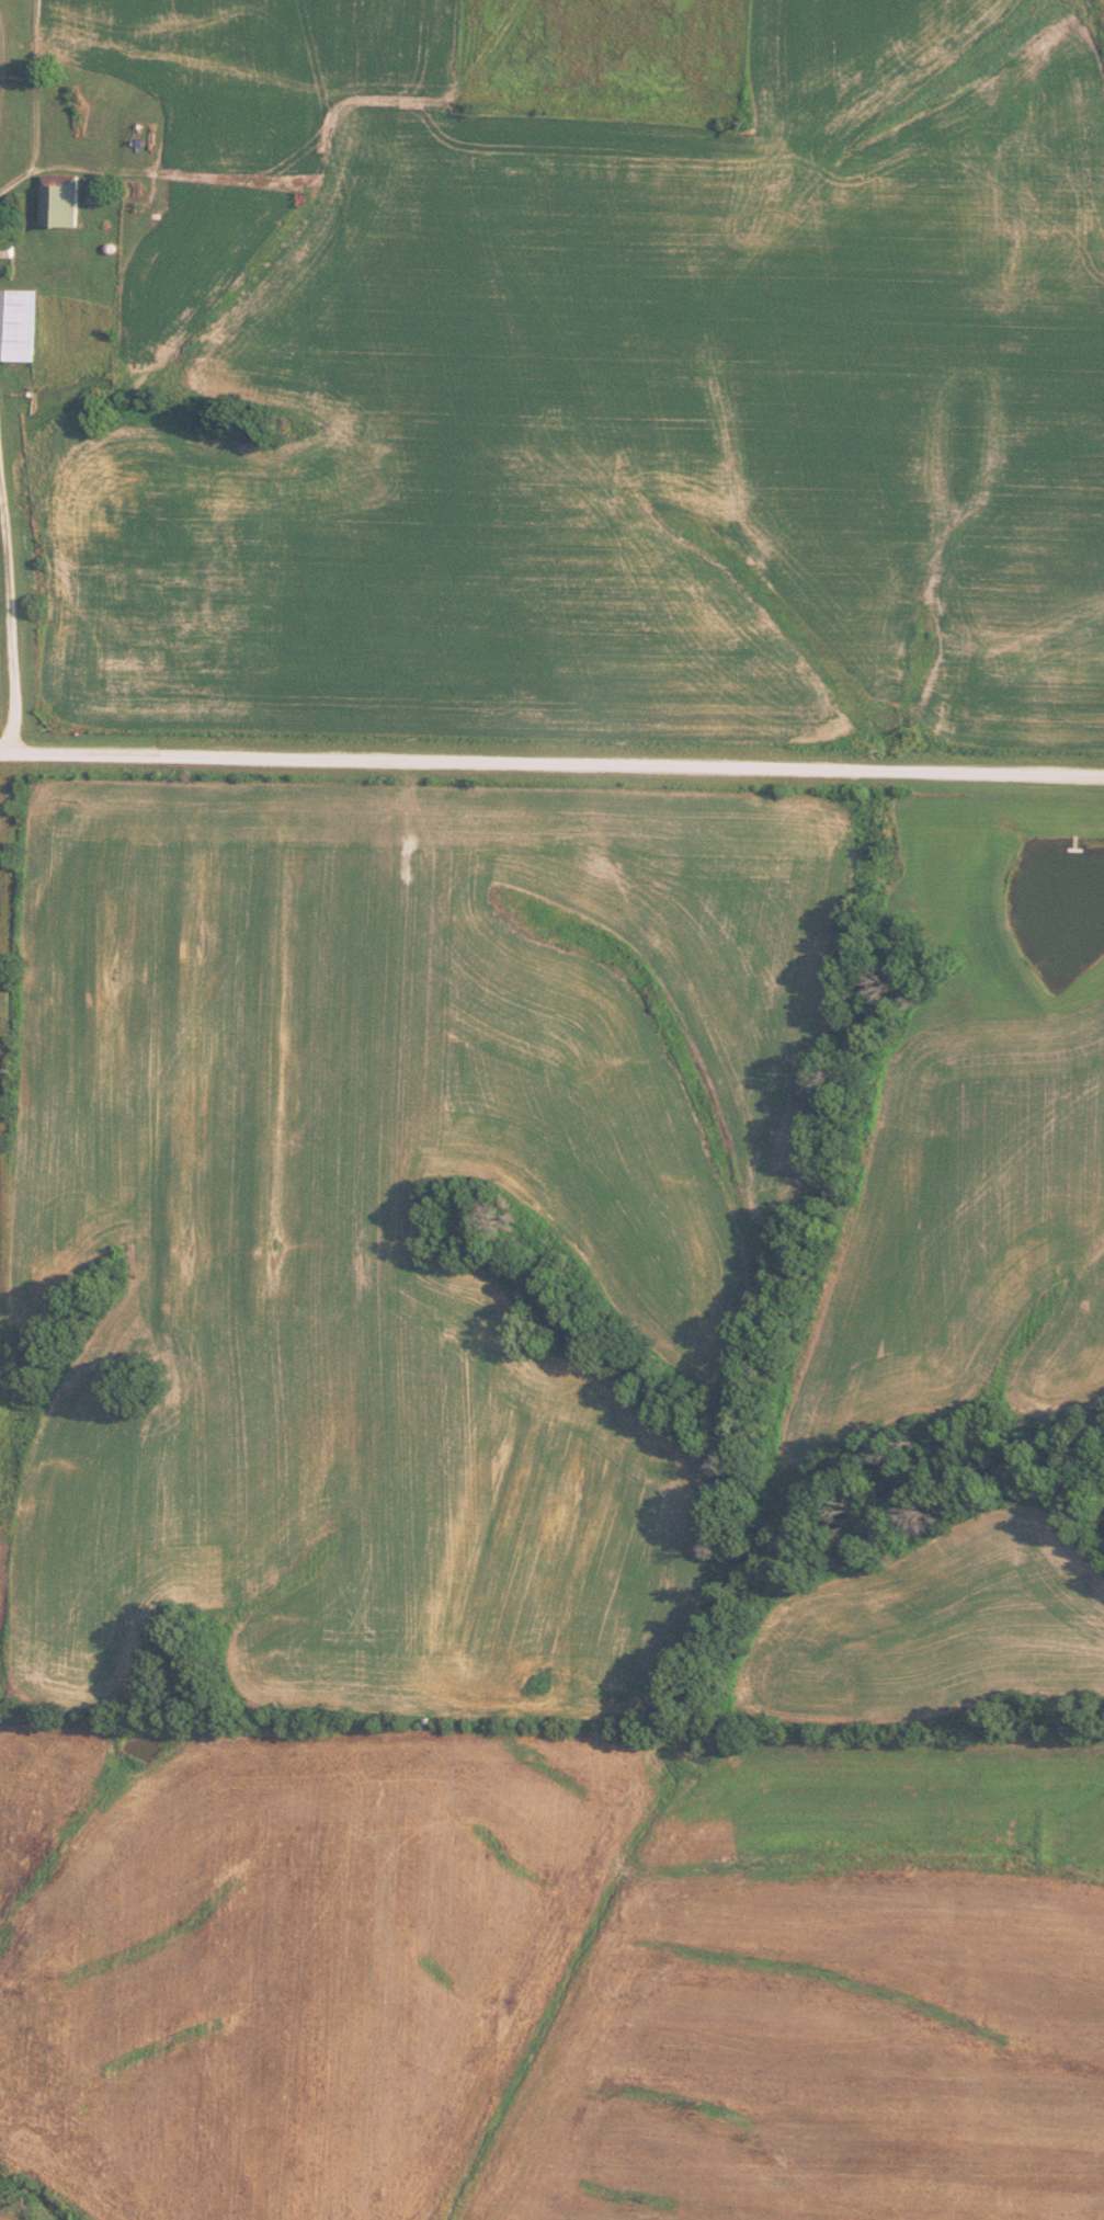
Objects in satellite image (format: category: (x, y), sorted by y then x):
building: (58, 202)
building: (5, 250)
building: (16, 325)
road: (551, 764)

